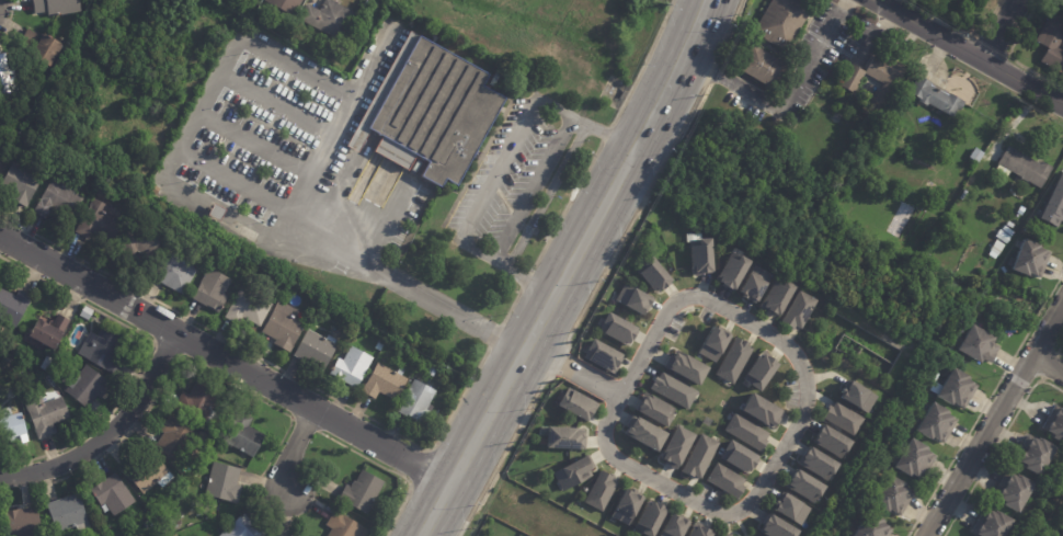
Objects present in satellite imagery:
road: (885, 3)
building: (1059, 3)
building: (287, 5)
building: (57, 7)
road: (11, 12)
building: (330, 19)
building: (784, 21)
building: (356, 24)
road: (728, 30)
road: (957, 31)
road: (1001, 31)
building: (347, 41)
road: (685, 44)
building: (1052, 45)
road: (991, 47)
building: (43, 48)
road: (967, 54)
road: (1011, 55)
road: (642, 64)
building: (764, 66)
road: (712, 71)
building: (853, 79)
building: (887, 80)
building: (8, 83)
building: (936, 93)
road: (785, 100)
road: (279, 101)
building: (0, 105)
building: (433, 113)
building: (870, 118)
road: (605, 134)
road: (258, 142)
building: (978, 153)
road: (481, 156)
building: (1, 157)
road: (180, 163)
building: (1026, 167)
road: (499, 170)
road: (240, 175)
road: (484, 179)
building: (20, 183)
road: (533, 189)
building: (150, 192)
building: (103, 195)
road: (545, 195)
building: (58, 201)
road: (503, 201)
building: (1054, 205)
road: (565, 206)
road: (639, 213)
building: (218, 215)
road: (516, 219)
building: (99, 224)
road: (528, 229)
road: (541, 236)
building: (1005, 237)
building: (144, 238)
building: (997, 248)
building: (221, 255)
building: (702, 255)
building: (1031, 259)
building: (730, 271)
building: (648, 273)
building: (174, 274)
road: (525, 280)
building: (750, 284)
building: (212, 292)
building: (778, 294)
building: (630, 298)
building: (13, 306)
road: (511, 306)
building: (249, 309)
building: (796, 311)
building: (87, 312)
road: (542, 312)
building: (614, 327)
building: (285, 328)
building: (49, 332)
road: (494, 335)
building: (707, 342)
building: (979, 344)
road: (1059, 345)
building: (380, 346)
building: (13, 349)
building: (104, 349)
road: (165, 349)
building: (316, 351)
building: (598, 355)
road: (146, 357)
road: (224, 360)
road: (174, 361)
road: (265, 361)
building: (734, 361)
building: (47, 362)
road: (558, 362)
road: (1048, 365)
building: (679, 366)
road: (1050, 366)
building: (352, 368)
building: (762, 369)
building: (386, 383)
building: (85, 385)
building: (958, 389)
building: (670, 390)
building: (237, 392)
building: (859, 397)
building: (198, 402)
building: (418, 403)
road: (984, 403)
building: (574, 404)
building: (651, 410)
building: (757, 410)
building: (46, 414)
building: (838, 417)
road: (994, 420)
building: (708, 421)
building: (936, 424)
building: (1055, 426)
building: (13, 429)
road: (318, 429)
building: (742, 430)
road: (108, 433)
building: (640, 433)
building: (244, 436)
building: (560, 436)
building: (176, 440)
building: (834, 442)
building: (671, 444)
road: (996, 445)
road: (292, 448)
building: (697, 454)
building: (1035, 455)
road: (500, 456)
building: (740, 457)
building: (915, 459)
building: (821, 464)
road: (770, 466)
road: (420, 468)
road: (390, 470)
building: (146, 471)
building: (576, 474)
building: (225, 481)
building: (727, 481)
building: (808, 487)
building: (364, 491)
building: (602, 491)
building: (1013, 492)
building: (113, 494)
building: (896, 497)
building: (629, 505)
building: (792, 509)
building: (69, 514)
building: (212, 514)
building: (653, 516)
building: (22, 522)
building: (148, 524)
building: (992, 525)
building: (343, 526)
building: (675, 526)
building: (872, 526)
building: (243, 527)
building: (779, 527)
building: (701, 529)
building: (1061, 532)
building: (724, 535)

